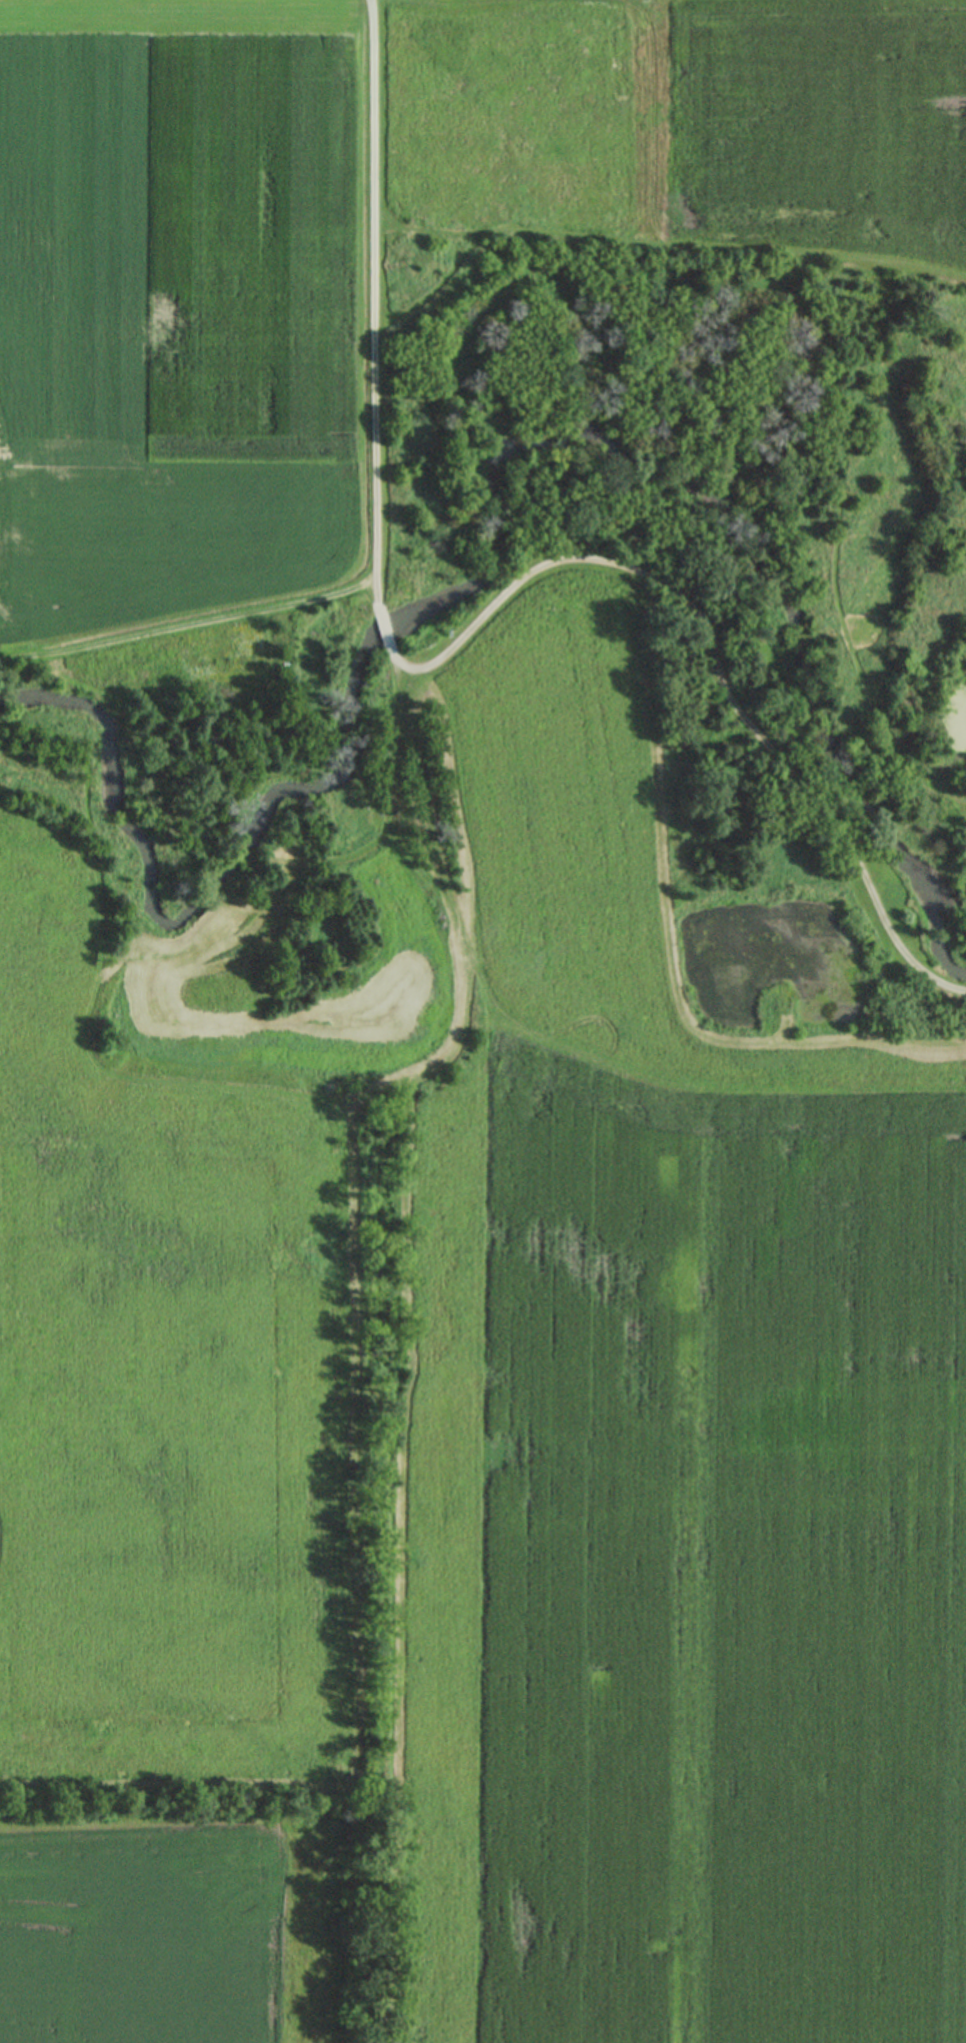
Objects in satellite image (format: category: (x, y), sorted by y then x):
road: (372, 300)
river: (487, 528)
road: (384, 628)
road: (716, 661)

